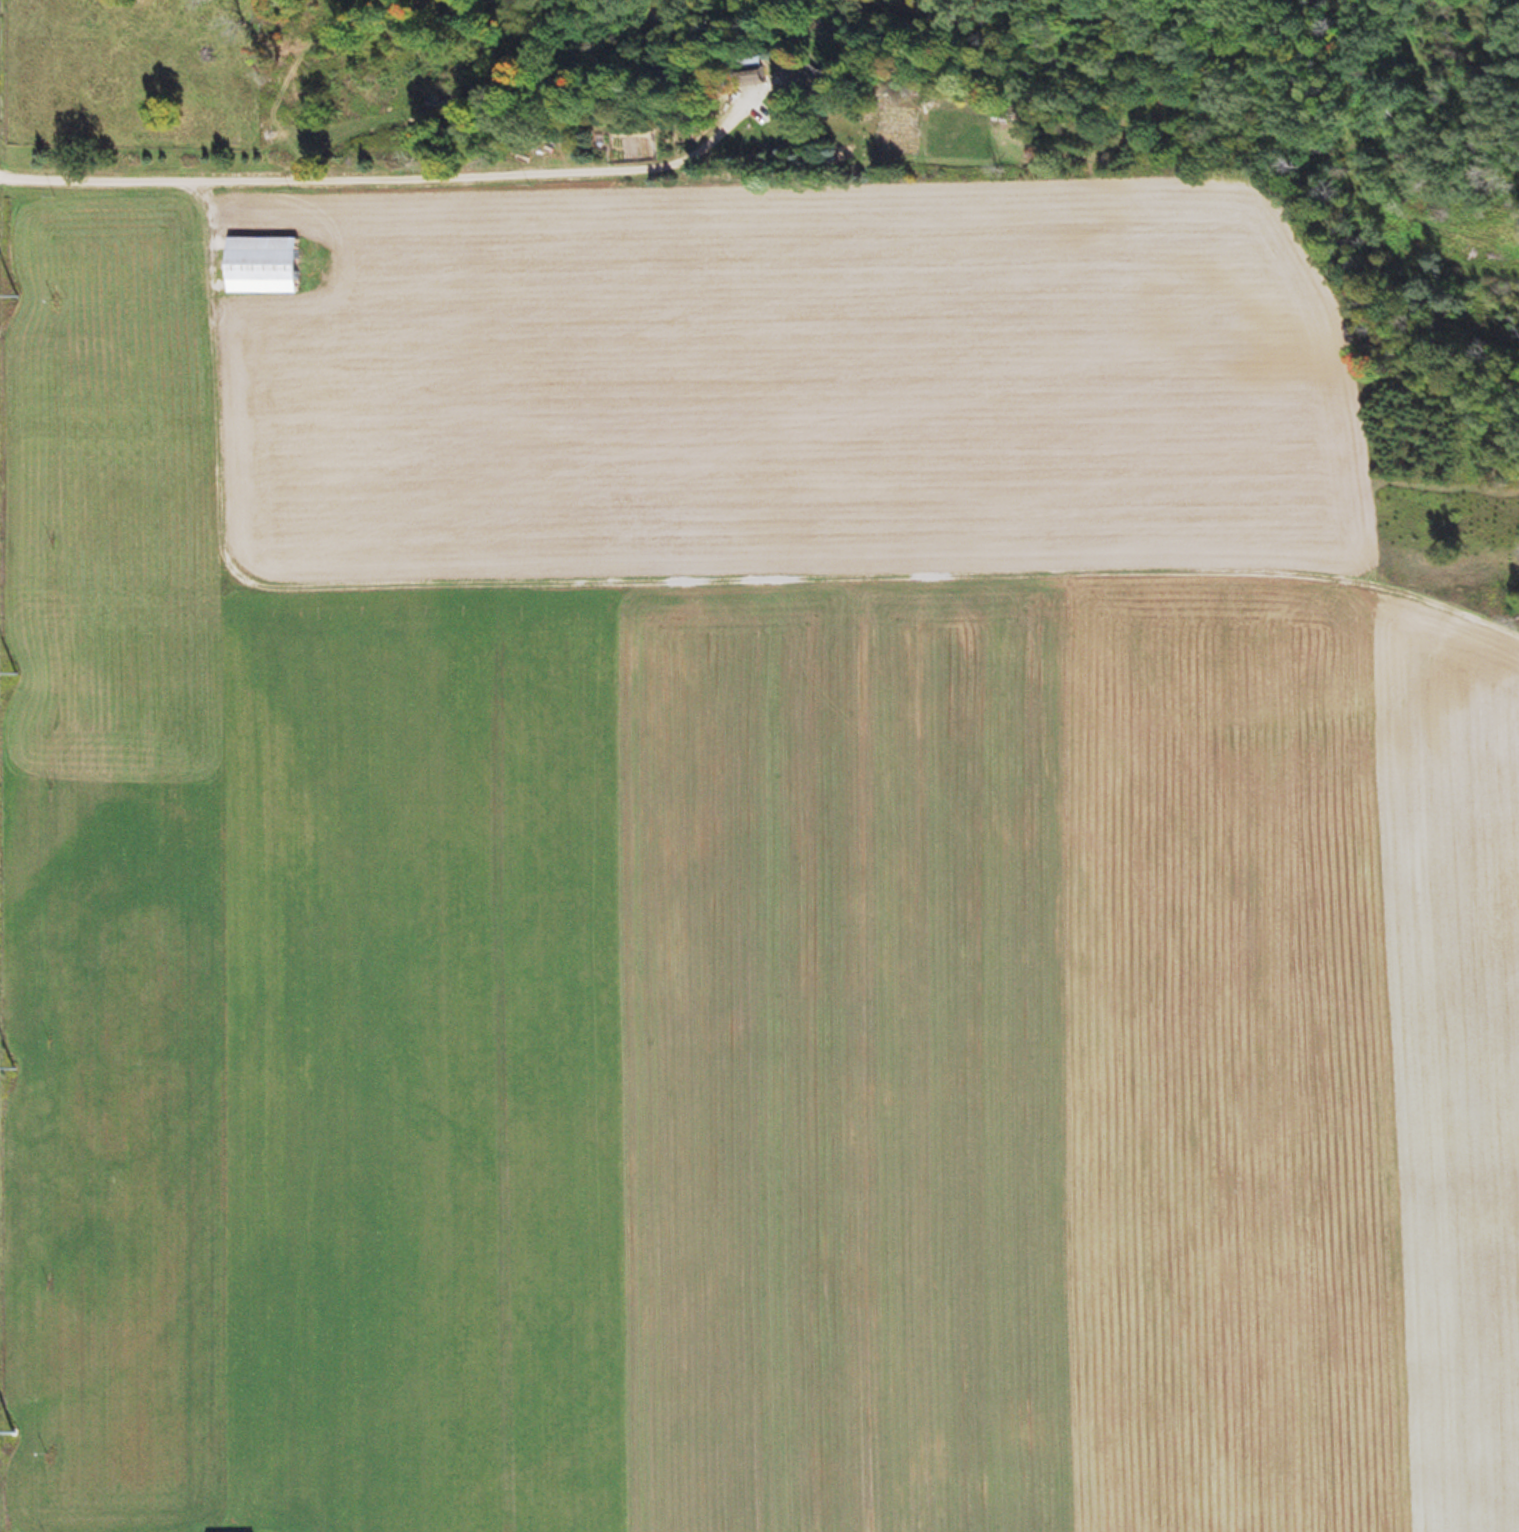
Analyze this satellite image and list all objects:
building: (794, 76)
building: (257, 264)
building: (161, 316)
building: (88, 364)

